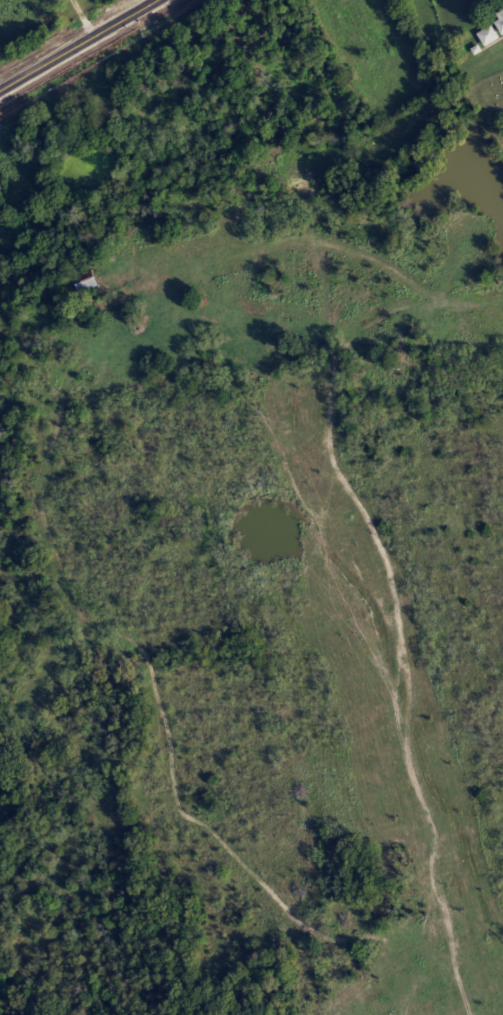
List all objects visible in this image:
road: (85, 16)
building: (491, 29)
road: (76, 43)
park: (492, 101)
road: (379, 254)
building: (83, 284)

